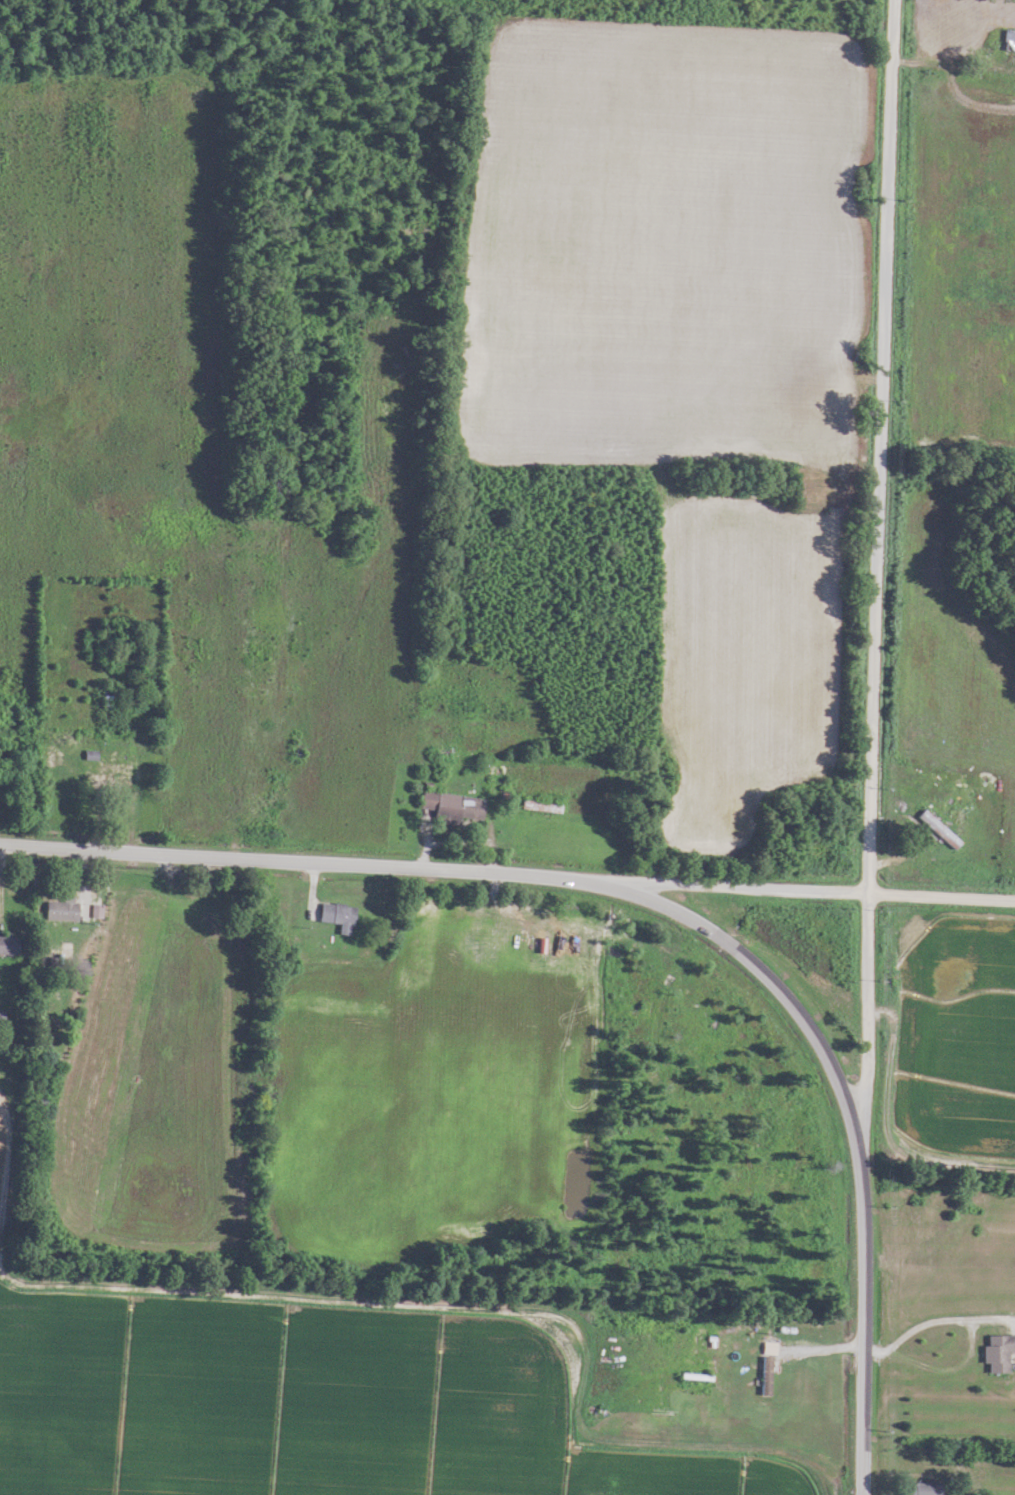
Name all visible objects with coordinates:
building: (932, 33)
building: (1007, 40)
road: (954, 68)
road: (875, 580)
building: (103, 695)
building: (113, 770)
building: (446, 806)
building: (536, 806)
road: (804, 890)
road: (663, 905)
building: (61, 908)
building: (333, 916)
building: (7, 945)
building: (917, 995)
building: (995, 1352)
building: (762, 1376)
building: (921, 1488)

